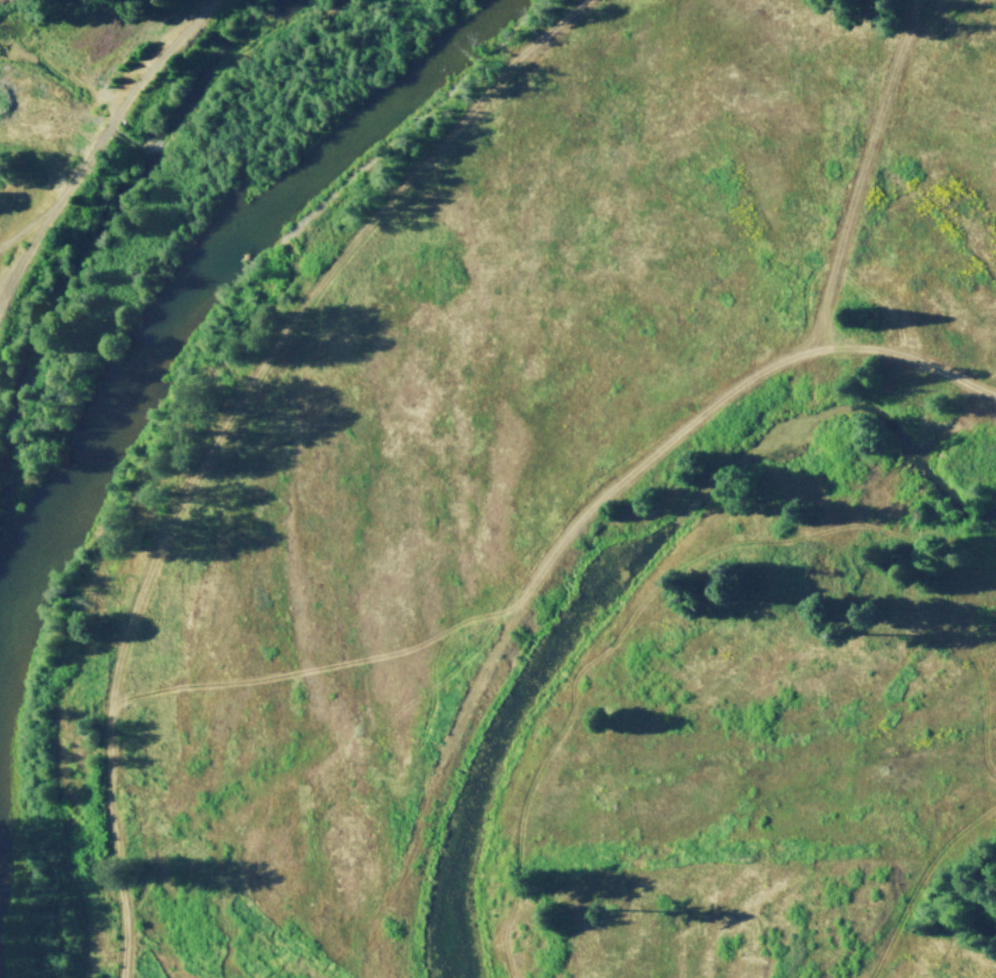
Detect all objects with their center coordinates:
river: (203, 283)
river: (3, 939)

